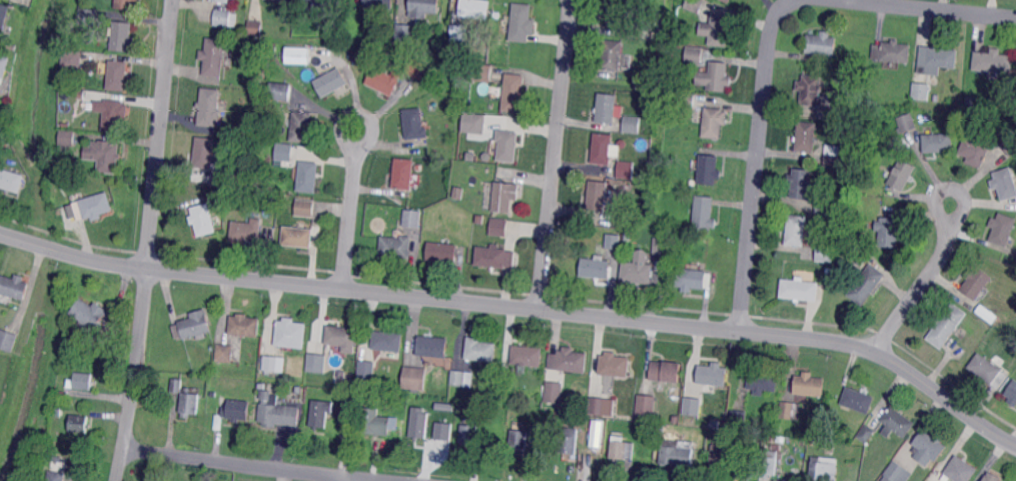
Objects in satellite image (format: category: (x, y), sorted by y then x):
building: (221, 1)
building: (727, 1)
building: (325, 2)
building: (127, 5)
building: (695, 5)
building: (377, 6)
building: (424, 8)
building: (476, 8)
road: (934, 8)
building: (497, 14)
building: (619, 15)
building: (4, 16)
building: (222, 18)
building: (89, 20)
building: (522, 23)
building: (255, 27)
building: (719, 29)
building: (652, 31)
building: (460, 33)
building: (405, 34)
building: (122, 39)
building: (434, 43)
building: (821, 44)
building: (655, 46)
building: (464, 47)
building: (13, 48)
building: (353, 49)
building: (892, 51)
building: (296, 54)
building: (613, 55)
building: (694, 55)
building: (215, 59)
building: (937, 59)
building: (74, 61)
building: (993, 61)
building: (3, 70)
building: (414, 70)
building: (861, 72)
building: (482, 74)
building: (716, 76)
building: (119, 78)
building: (255, 81)
building: (384, 82)
building: (331, 83)
building: (810, 89)
building: (921, 90)
building: (279, 93)
building: (513, 94)
building: (83, 96)
building: (870, 96)
building: (936, 98)
building: (970, 99)
building: (686, 100)
building: (209, 107)
building: (607, 111)
building: (835, 113)
building: (848, 113)
building: (113, 116)
building: (713, 121)
building: (907, 122)
building: (415, 123)
building: (475, 123)
building: (631, 126)
building: (301, 127)
building: (647, 129)
road: (160, 134)
building: (806, 136)
building: (1007, 138)
building: (70, 139)
building: (938, 143)
building: (508, 145)
building: (603, 148)
building: (974, 148)
building: (284, 152)
road: (555, 154)
building: (106, 156)
building: (205, 156)
building: (834, 157)
building: (486, 158)
road: (757, 160)
building: (417, 168)
building: (709, 169)
building: (626, 171)
building: (403, 174)
building: (900, 174)
building: (69, 176)
building: (643, 176)
building: (58, 177)
building: (227, 177)
building: (308, 178)
building: (12, 183)
building: (693, 183)
building: (802, 183)
building: (1005, 183)
building: (862, 188)
building: (289, 190)
building: (459, 193)
building: (225, 196)
building: (505, 196)
building: (282, 198)
building: (597, 198)
building: (868, 203)
building: (826, 204)
building: (96, 206)
building: (305, 208)
road: (351, 210)
building: (704, 214)
building: (809, 216)
building: (622, 217)
building: (412, 219)
building: (481, 219)
building: (202, 220)
building: (499, 227)
building: (1002, 229)
building: (247, 231)
building: (795, 231)
building: (889, 232)
building: (628, 235)
building: (298, 236)
building: (613, 241)
building: (661, 245)
building: (396, 247)
building: (443, 252)
building: (825, 253)
building: (857, 253)
building: (494, 256)
building: (596, 267)
building: (829, 269)
building: (637, 271)
building: (692, 279)
road: (923, 281)
building: (976, 282)
building: (866, 284)
building: (15, 288)
building: (800, 289)
road: (520, 307)
building: (91, 316)
building: (195, 325)
building: (947, 325)
building: (244, 326)
building: (290, 335)
building: (68, 336)
building: (341, 337)
building: (8, 342)
building: (387, 342)
building: (433, 346)
building: (481, 349)
building: (224, 353)
building: (526, 357)
building: (567, 360)
building: (317, 362)
building: (272, 364)
building: (613, 365)
building: (367, 371)
building: (987, 371)
building: (666, 372)
road: (136, 374)
building: (712, 374)
building: (341, 376)
building: (414, 378)
building: (462, 379)
building: (761, 380)
building: (83, 383)
building: (177, 385)
building: (808, 385)
building: (299, 390)
building: (553, 392)
building: (1012, 393)
building: (340, 395)
building: (858, 400)
building: (189, 404)
building: (603, 404)
building: (648, 404)
building: (693, 406)
building: (58, 410)
building: (236, 410)
building: (278, 410)
building: (791, 410)
building: (321, 413)
building: (739, 417)
building: (898, 421)
building: (375, 422)
building: (78, 423)
building: (420, 423)
building: (443, 433)
building: (867, 433)
building: (469, 434)
building: (535, 434)
building: (830, 434)
building: (753, 437)
building: (519, 439)
building: (569, 440)
building: (775, 447)
building: (929, 447)
building: (596, 448)
building: (622, 451)
building: (677, 452)
building: (54, 457)
building: (725, 457)
building: (769, 462)
road: (250, 465)
building: (933, 465)
building: (824, 468)
building: (958, 471)
building: (896, 473)
building: (55, 475)
building: (992, 477)
building: (854, 478)
road: (357, 480)

